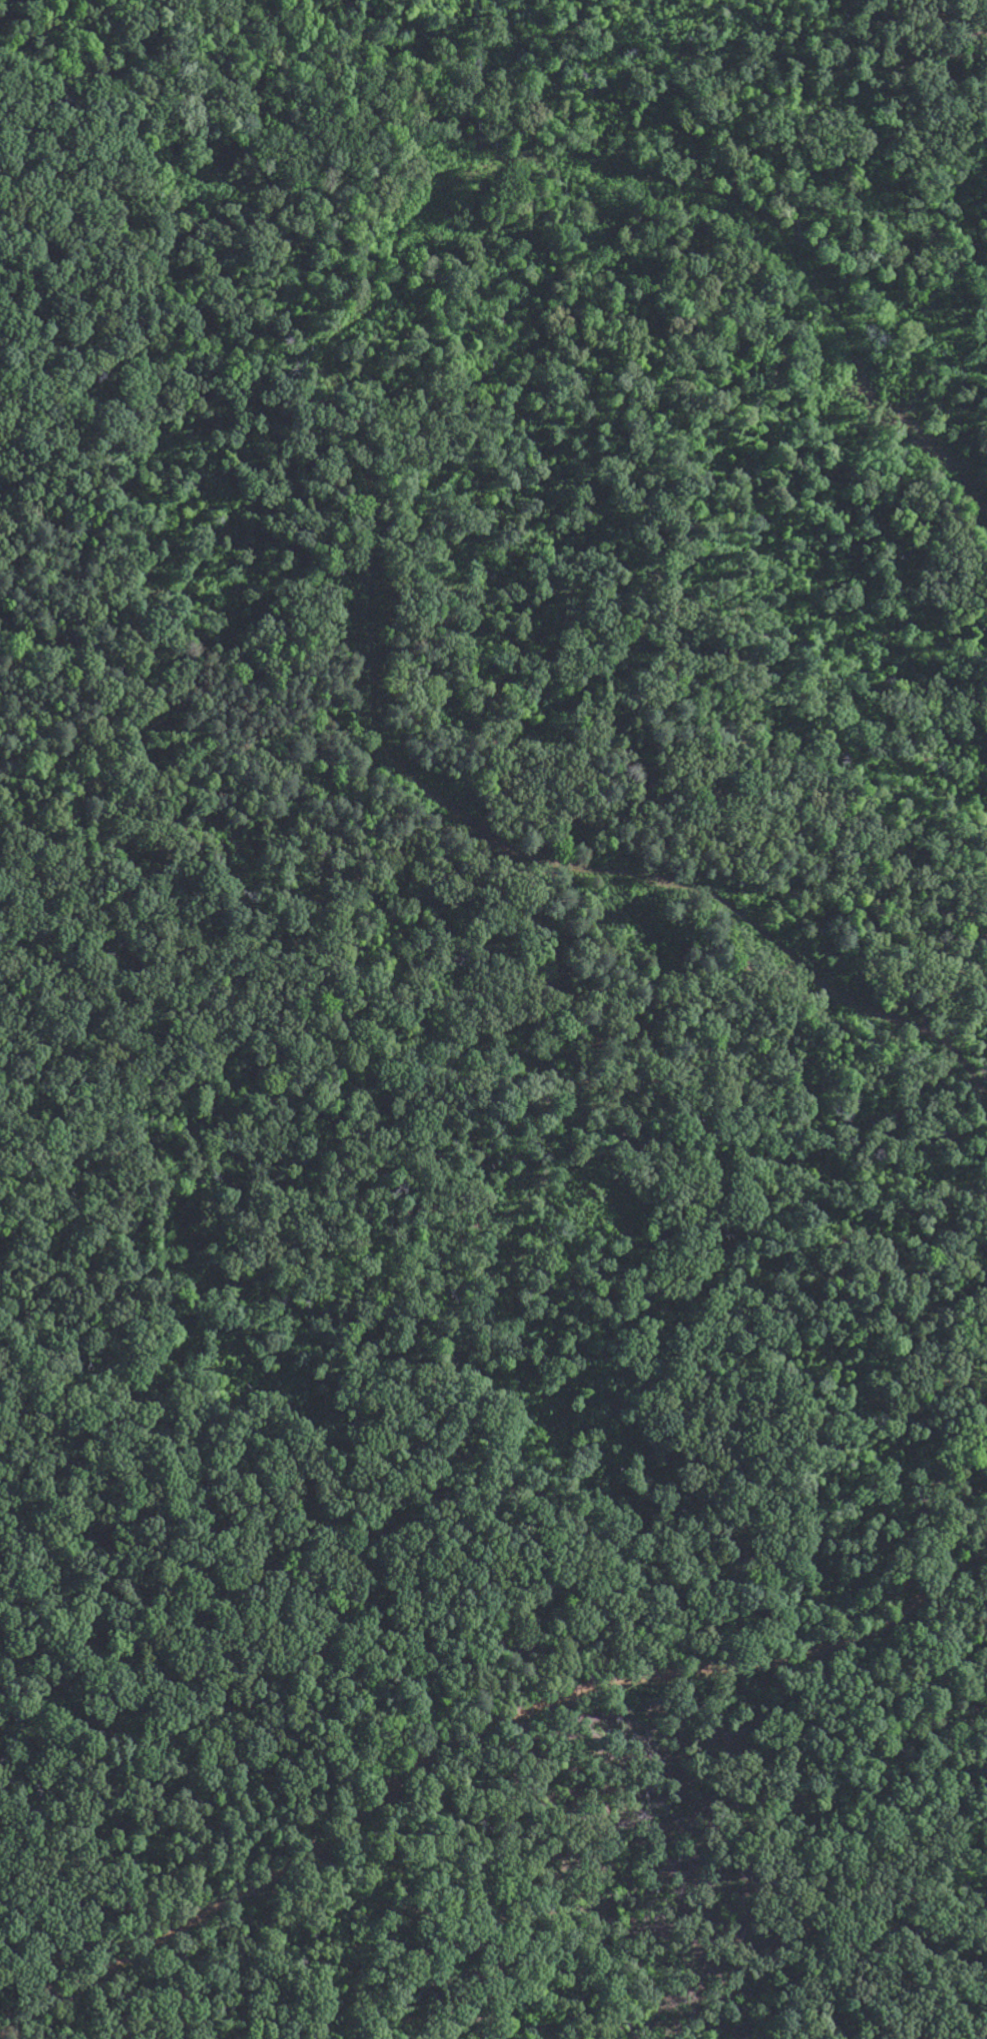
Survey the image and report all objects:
road: (476, 1731)
road: (330, 1942)

